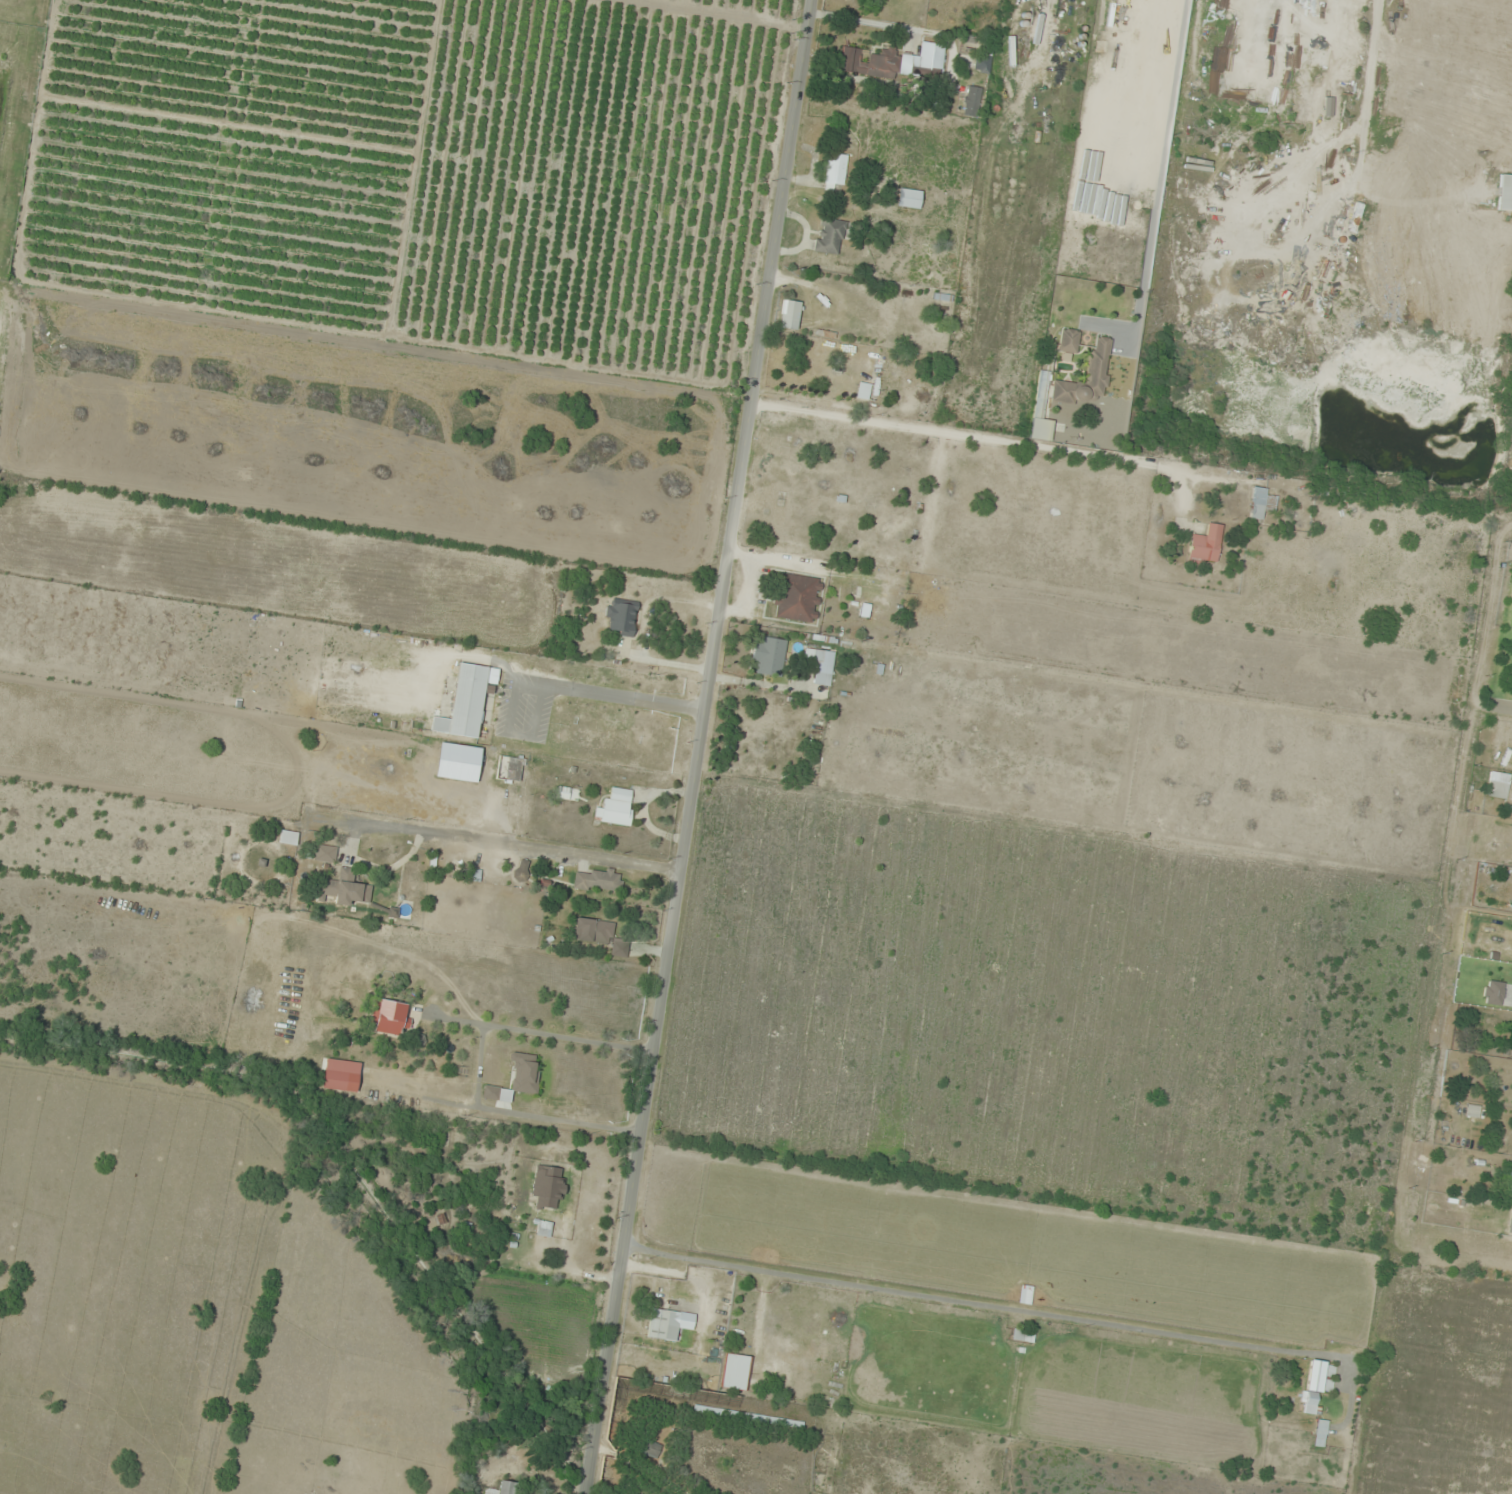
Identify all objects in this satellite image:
building: (894, 62)
building: (982, 64)
building: (972, 101)
building: (835, 171)
building: (1505, 192)
building: (908, 198)
building: (830, 236)
building: (789, 315)
building: (1068, 340)
building: (1088, 376)
building: (872, 382)
building: (1041, 429)
building: (1261, 503)
building: (1205, 545)
building: (798, 598)
building: (621, 619)
building: (766, 659)
building: (819, 667)
building: (466, 701)
road: (1502, 706)
road: (697, 747)
building: (513, 769)
building: (1498, 785)
building: (616, 807)
building: (325, 853)
building: (521, 870)
building: (599, 880)
building: (343, 888)
building: (600, 935)
road: (444, 991)
building: (1493, 992)
building: (389, 1016)
building: (340, 1080)
building: (1509, 1186)
building: (1510, 1222)
building: (544, 1228)
building: (663, 1324)
building: (1023, 1335)
building: (736, 1372)
building: (1317, 1384)
building: (1320, 1433)
building: (505, 1489)

